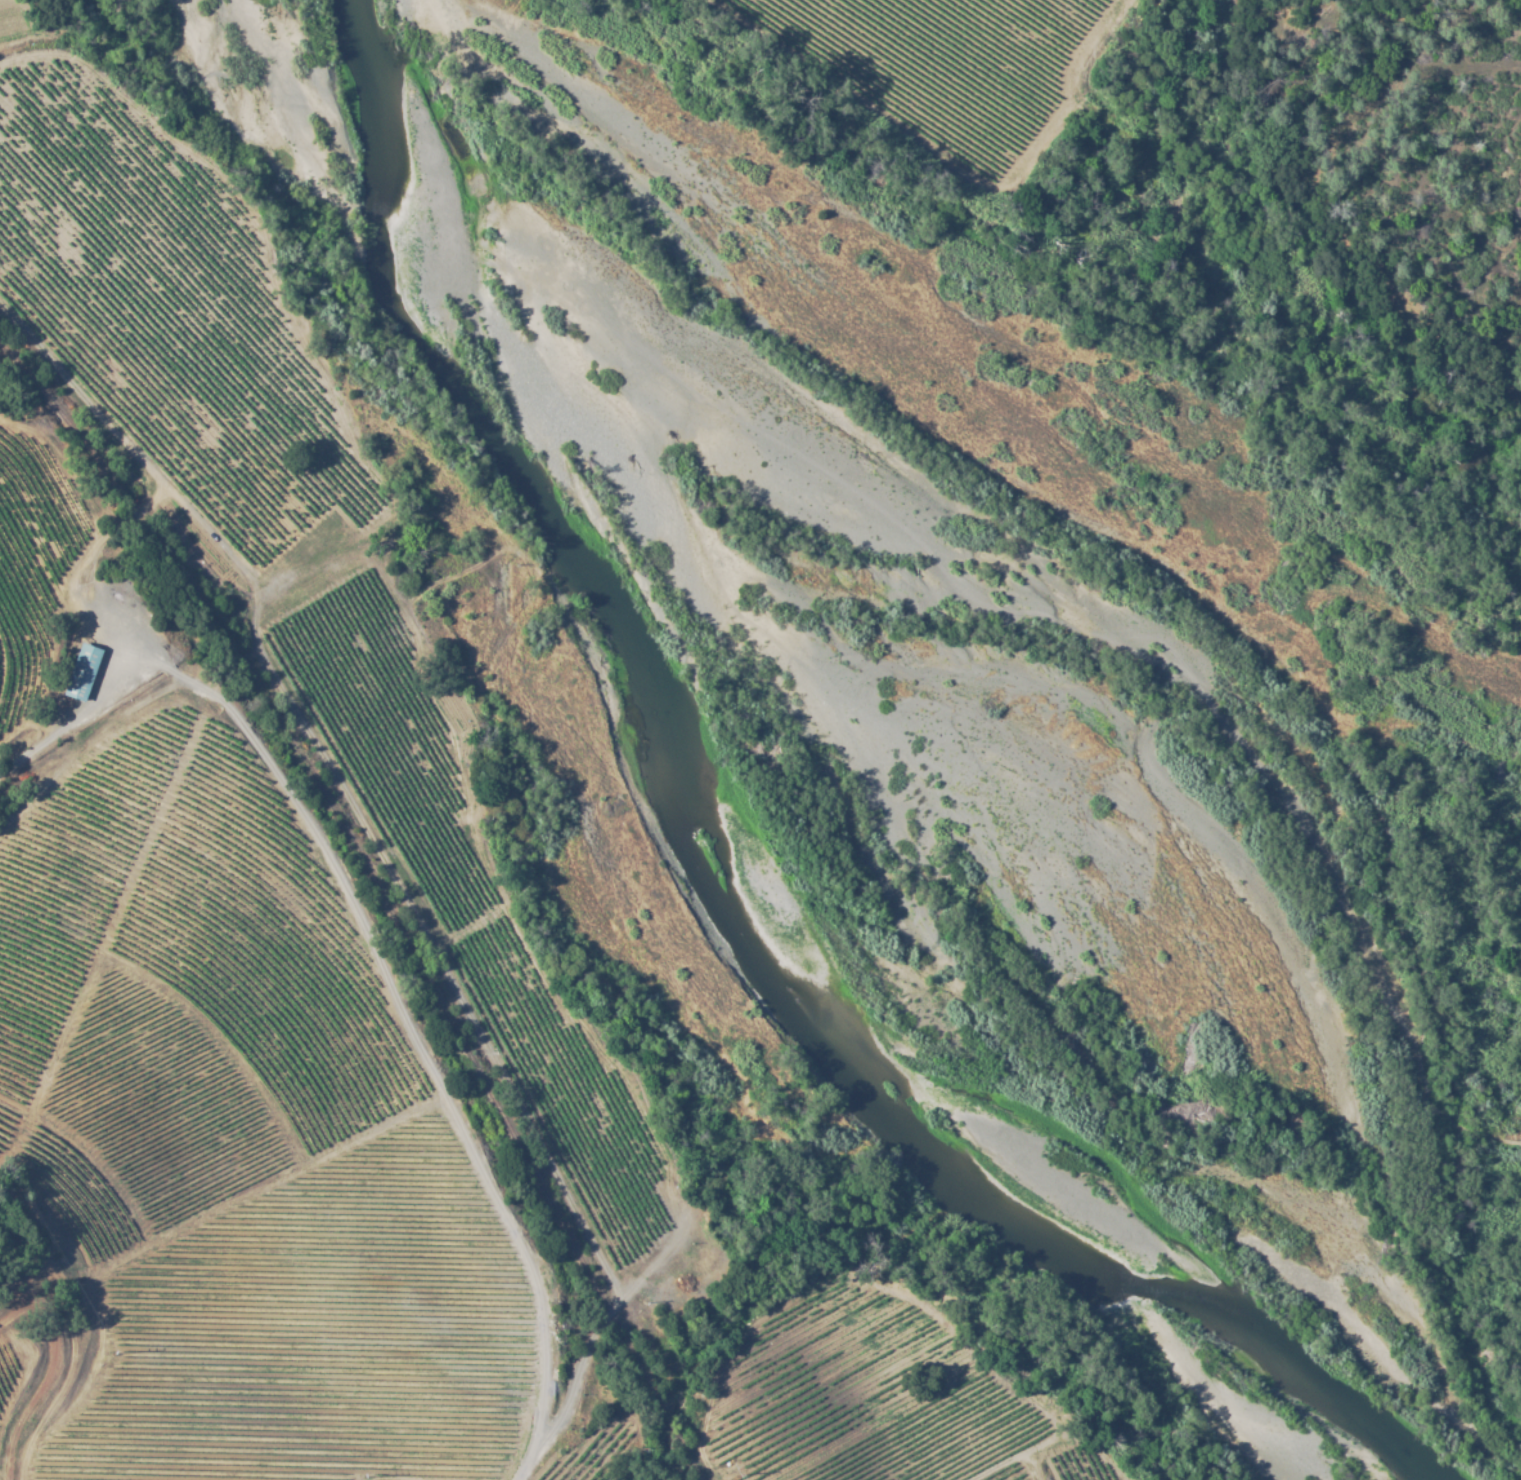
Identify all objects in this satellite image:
building: (82, 671)
river: (784, 832)
railway: (378, 893)

